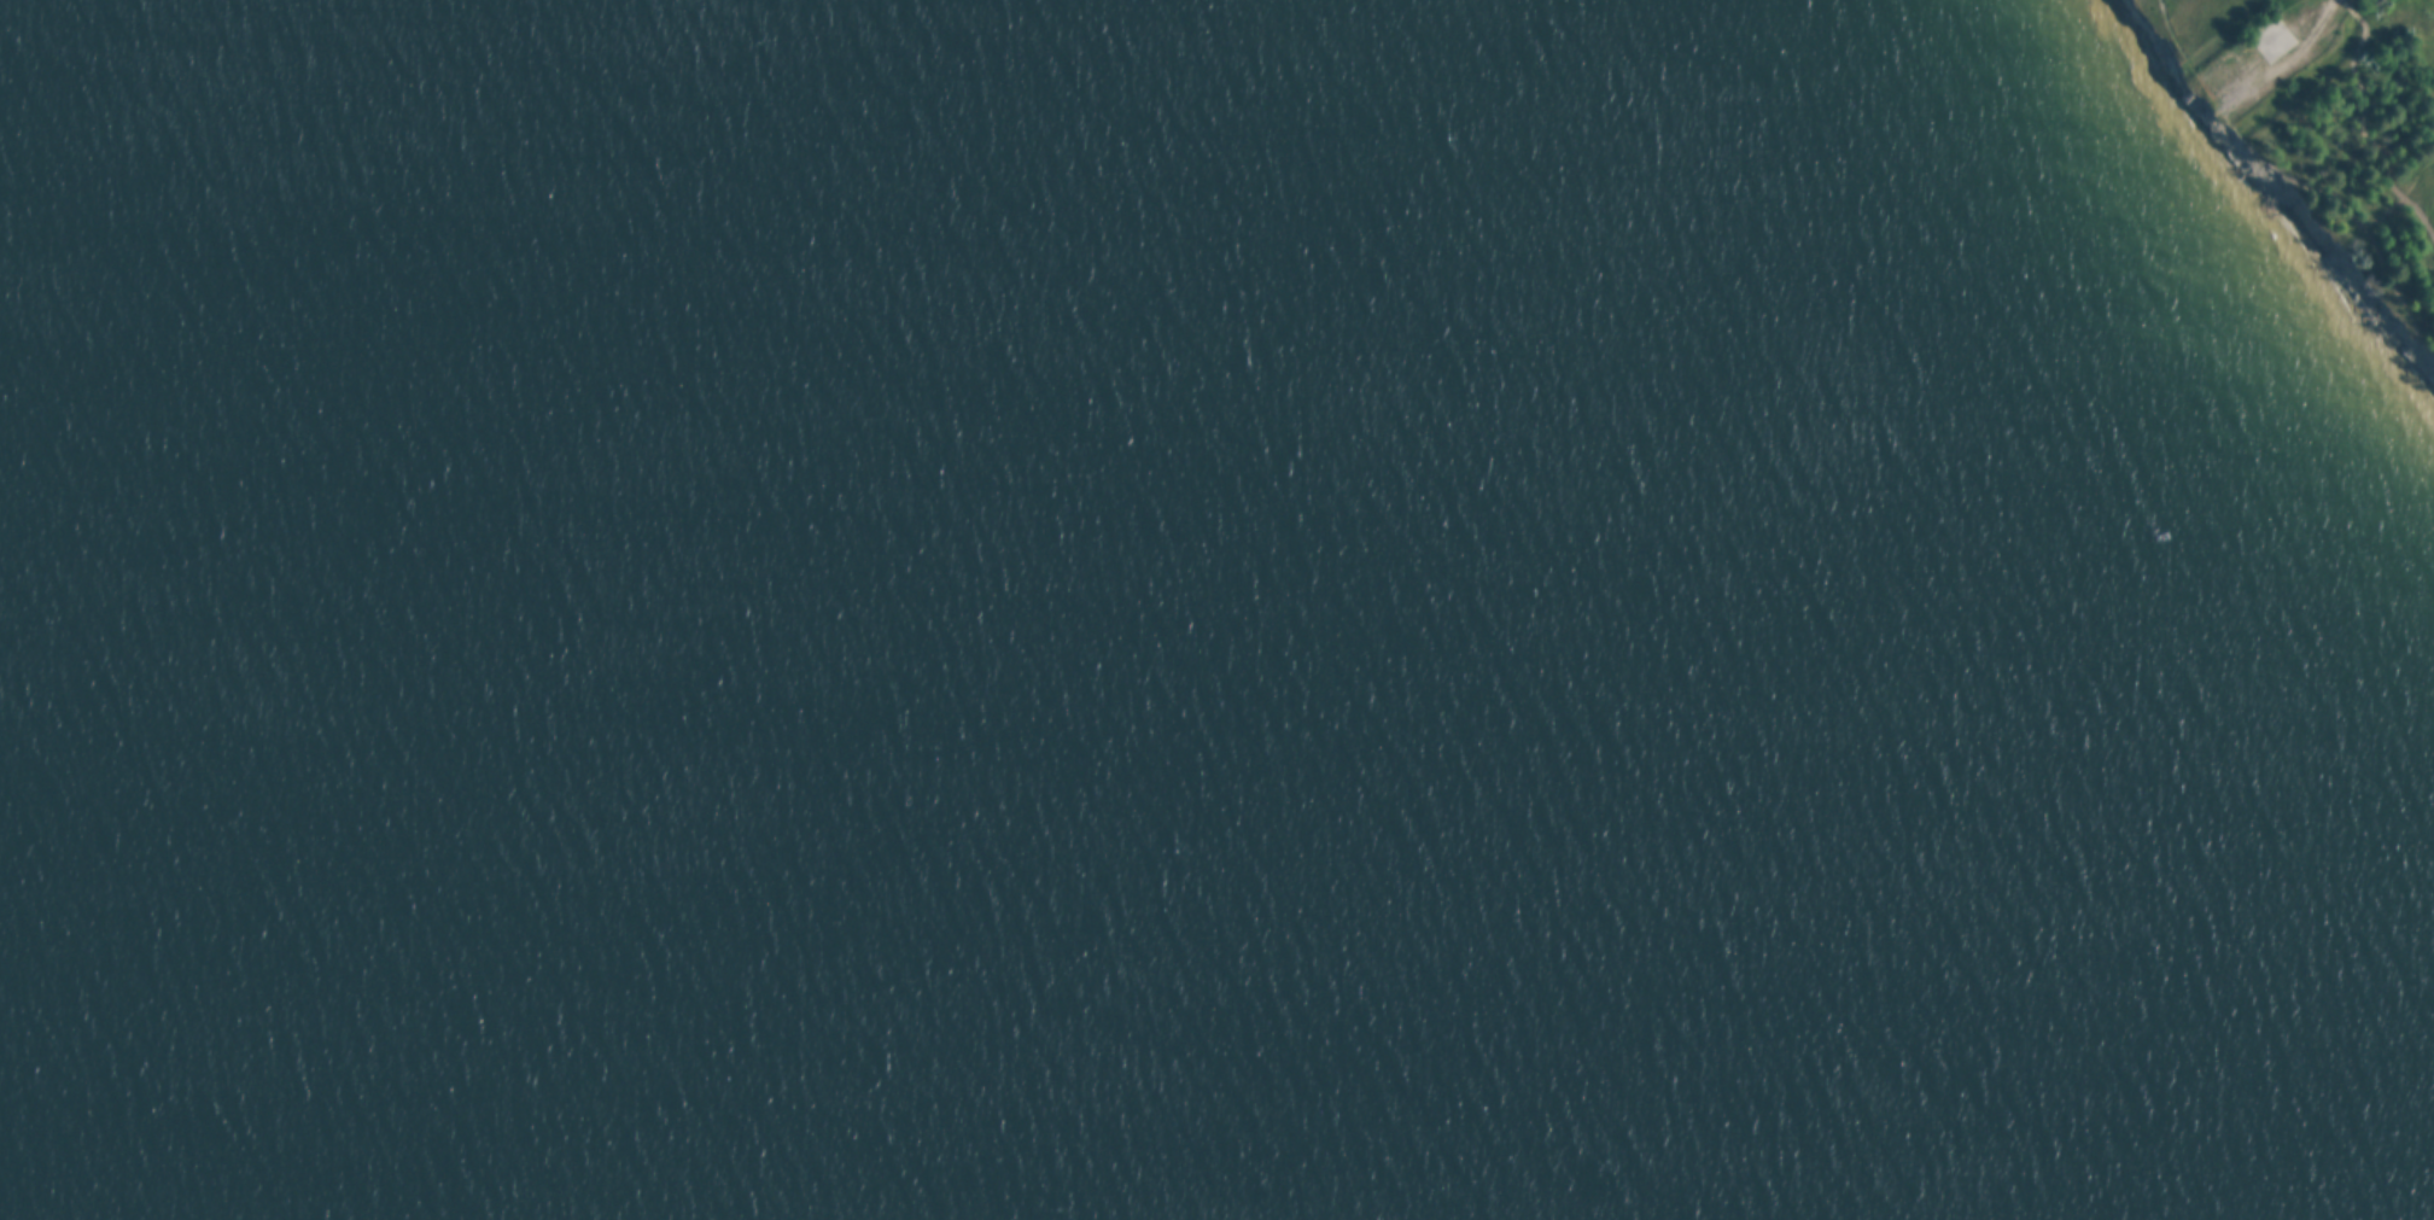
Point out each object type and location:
road: (2318, 81)
park: (2308, 158)
road: (2288, 197)

